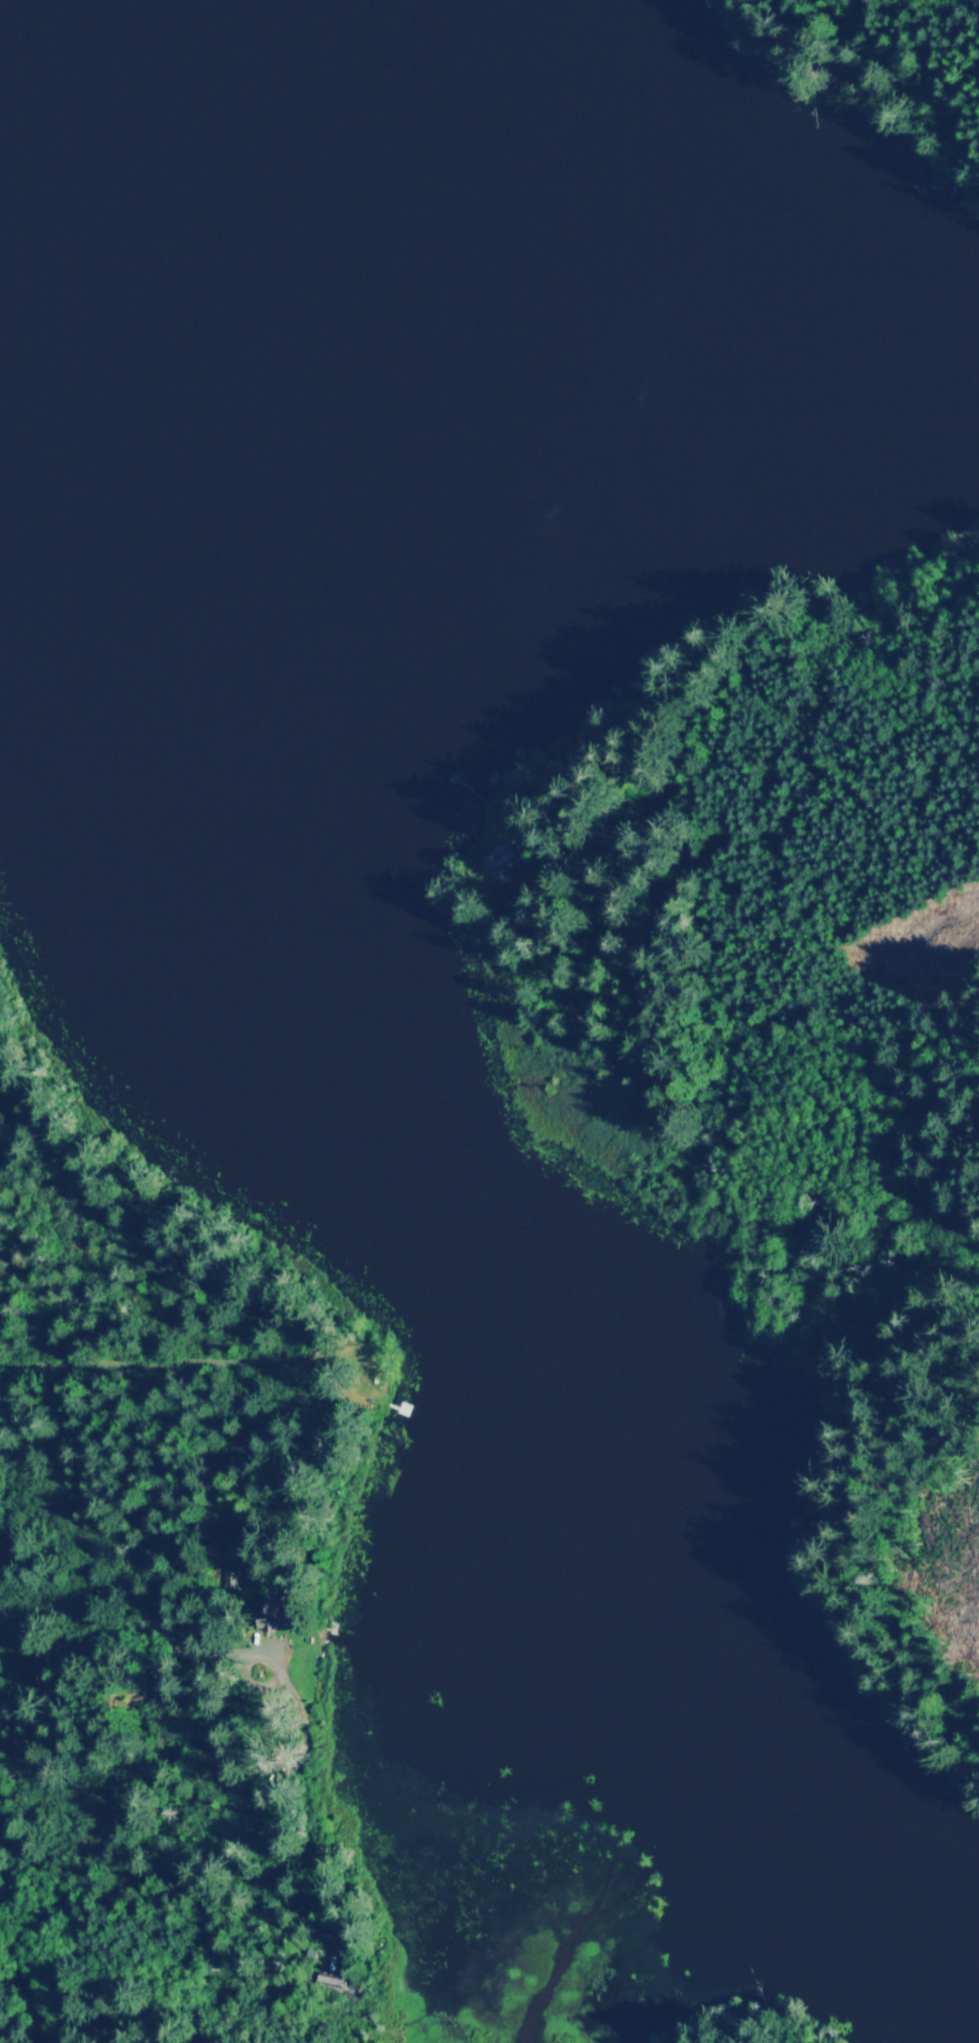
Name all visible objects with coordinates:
building: (506, 861)
road: (175, 1366)
building: (280, 1610)
road: (122, 1659)

